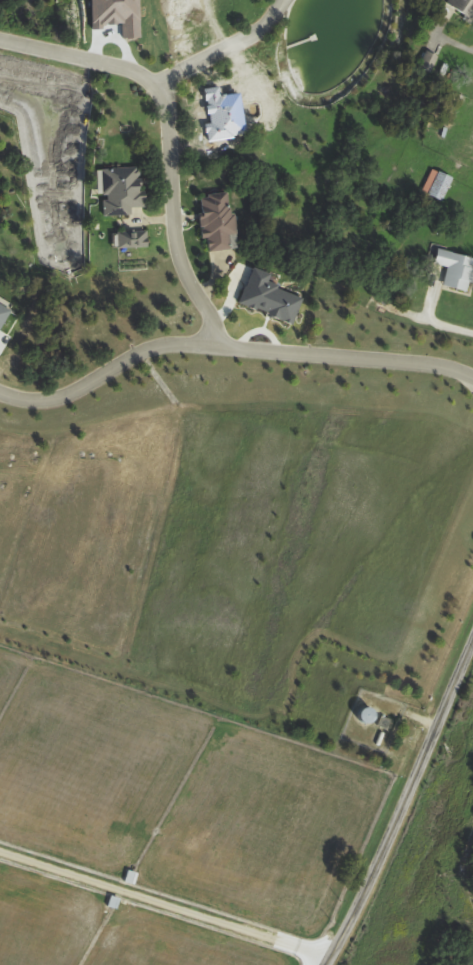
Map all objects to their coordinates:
building: (461, 7)
building: (113, 14)
road: (222, 48)
road: (459, 48)
building: (426, 61)
building: (436, 184)
building: (121, 191)
building: (217, 220)
building: (132, 239)
road: (175, 252)
building: (456, 269)
building: (269, 297)
building: (3, 313)
road: (447, 326)
road: (343, 357)
road: (401, 800)
road: (163, 905)

